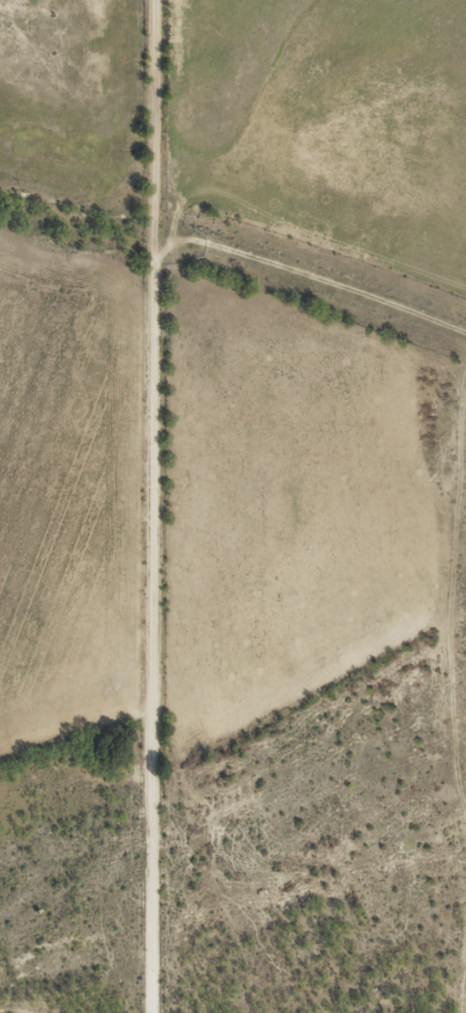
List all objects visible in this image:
railway: (236, 261)
road: (143, 506)

